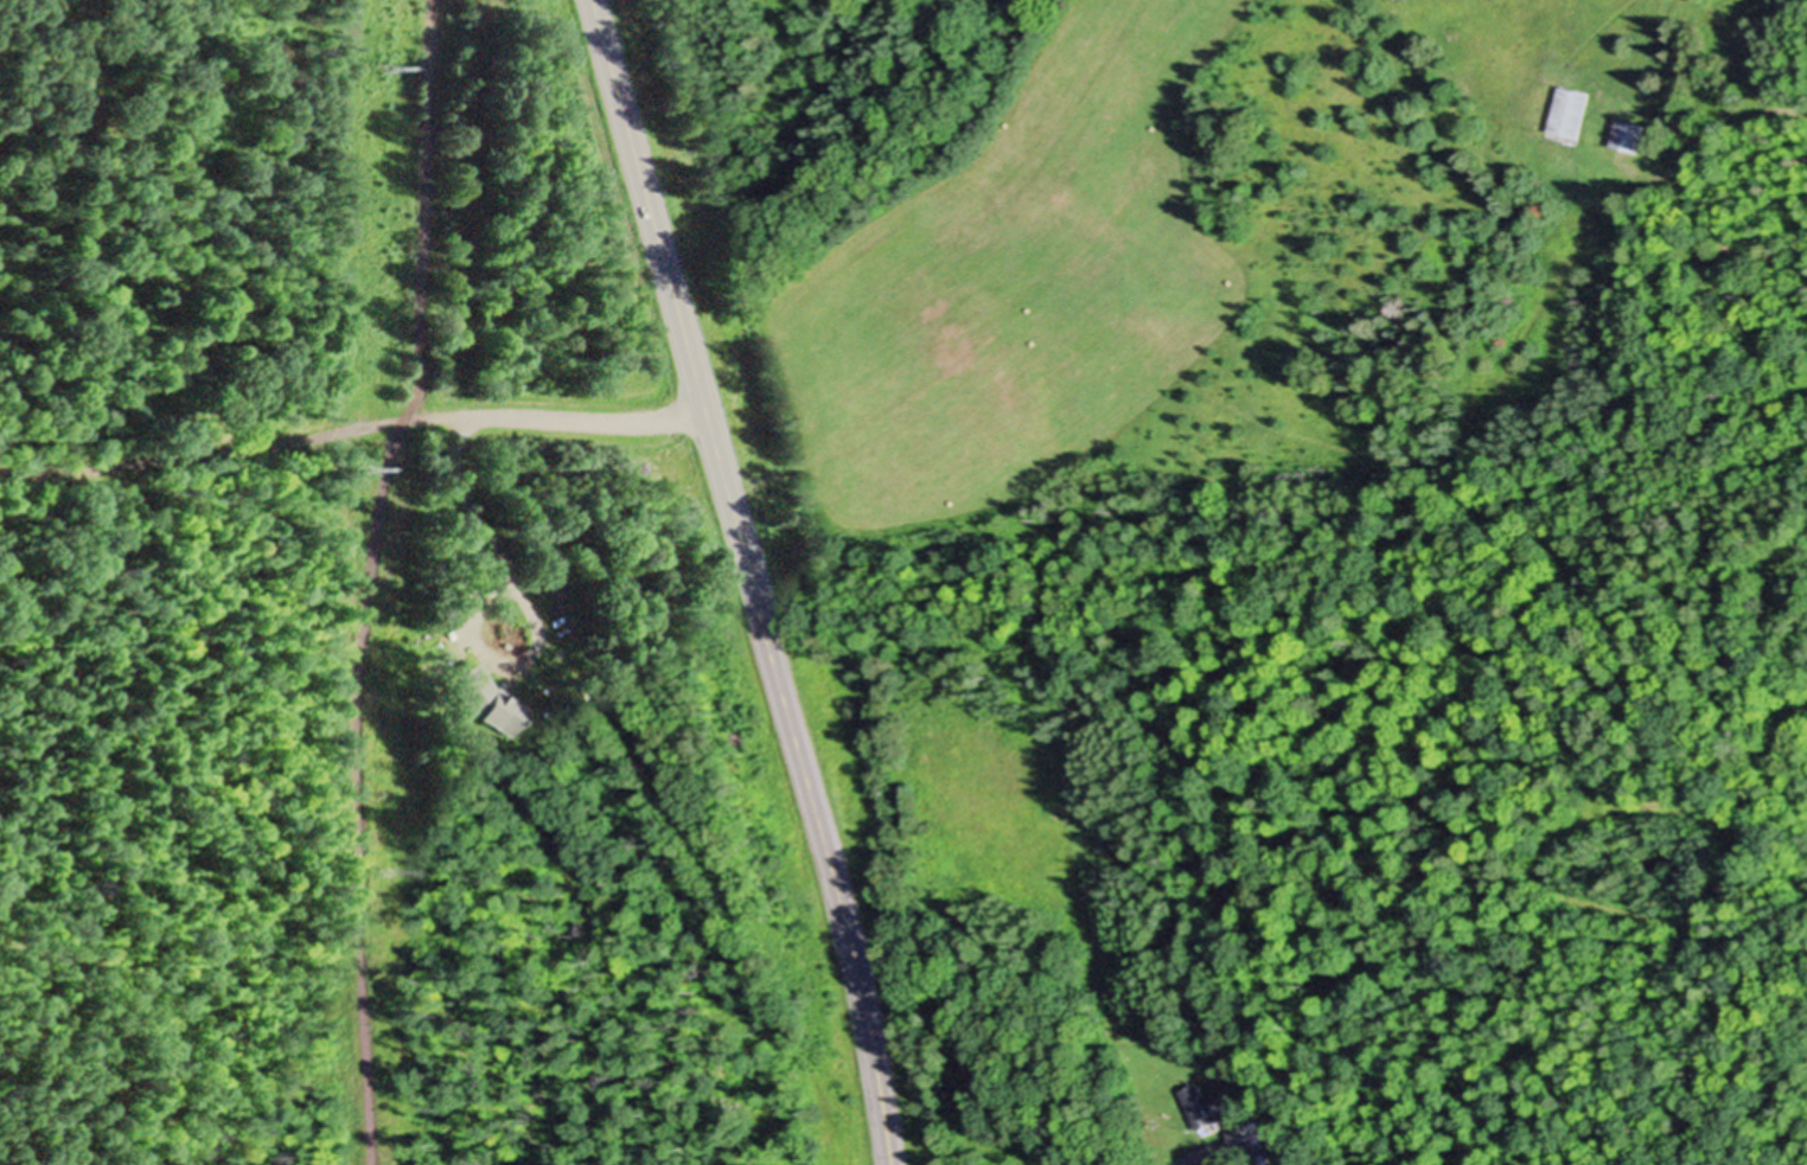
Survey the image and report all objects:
building: (1572, 111)
building: (1632, 135)
road: (1712, 141)
road: (417, 207)
road: (350, 428)
road: (752, 578)
road: (516, 593)
road: (356, 798)
building: (1207, 1106)
building: (1249, 1144)
road: (1186, 1156)

